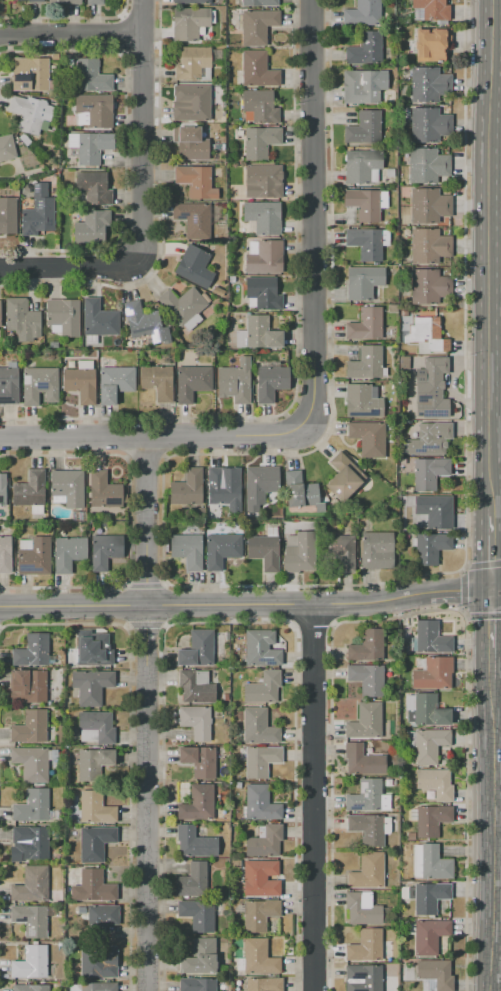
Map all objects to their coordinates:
building: (28, 0)
building: (2, 2)
building: (64, 2)
building: (95, 2)
building: (191, 2)
building: (260, 3)
building: (428, 9)
building: (363, 13)
building: (188, 23)
building: (256, 25)
road: (74, 35)
building: (431, 44)
building: (365, 49)
building: (192, 64)
building: (258, 70)
road: (497, 72)
building: (29, 75)
building: (91, 76)
building: (428, 85)
building: (361, 87)
building: (194, 104)
building: (260, 106)
building: (92, 111)
building: (30, 113)
building: (428, 125)
building: (364, 128)
road: (147, 140)
building: (259, 142)
building: (190, 143)
building: (92, 147)
building: (6, 148)
building: (361, 164)
building: (426, 165)
building: (263, 180)
building: (196, 181)
building: (92, 188)
building: (364, 204)
building: (429, 205)
road: (313, 214)
building: (8, 215)
building: (38, 216)
building: (263, 216)
building: (194, 219)
building: (91, 228)
building: (365, 243)
building: (429, 246)
road: (493, 254)
building: (265, 258)
building: (193, 267)
road: (62, 273)
building: (363, 282)
building: (428, 287)
building: (262, 292)
building: (182, 304)
building: (63, 316)
building: (0, 318)
building: (22, 318)
building: (99, 319)
building: (145, 323)
building: (365, 324)
building: (261, 333)
building: (428, 335)
building: (366, 363)
building: (84, 364)
building: (270, 380)
building: (192, 381)
building: (234, 381)
building: (156, 382)
building: (114, 383)
building: (79, 384)
building: (9, 385)
building: (39, 385)
building: (432, 388)
building: (362, 402)
road: (151, 435)
building: (368, 438)
building: (428, 439)
building: (428, 472)
building: (344, 477)
building: (259, 485)
building: (68, 486)
building: (187, 488)
building: (221, 488)
building: (2, 489)
building: (29, 489)
building: (103, 491)
building: (301, 491)
building: (435, 511)
building: (339, 546)
building: (430, 547)
building: (376, 549)
road: (493, 549)
building: (105, 550)
building: (187, 550)
building: (221, 550)
building: (263, 551)
building: (299, 552)
building: (5, 553)
building: (68, 553)
building: (35, 558)
road: (497, 589)
traffic signals: (493, 590)
road: (462, 591)
road: (216, 603)
road: (493, 634)
building: (430, 638)
building: (368, 646)
building: (261, 648)
building: (196, 649)
building: (91, 650)
building: (31, 651)
building: (432, 674)
building: (366, 679)
building: (91, 685)
building: (27, 686)
building: (195, 686)
building: (262, 688)
building: (426, 710)
road: (149, 713)
building: (196, 721)
building: (365, 722)
building: (30, 726)
building: (258, 726)
building: (96, 727)
building: (427, 744)
building: (363, 760)
building: (199, 761)
building: (261, 761)
building: (31, 763)
building: (93, 763)
building: (435, 782)
road: (312, 796)
building: (365, 796)
building: (197, 803)
building: (260, 803)
building: (32, 806)
building: (95, 808)
building: (431, 819)
building: (367, 829)
road: (492, 834)
building: (264, 841)
building: (95, 843)
building: (194, 843)
building: (29, 844)
building: (434, 863)
building: (367, 871)
building: (260, 878)
building: (193, 881)
building: (31, 884)
building: (92, 887)
building: (429, 897)
building: (362, 909)
building: (102, 914)
building: (197, 914)
building: (259, 914)
building: (30, 919)
building: (429, 935)
building: (365, 945)
building: (259, 957)
building: (200, 958)
building: (30, 962)
building: (98, 969)
building: (436, 973)
building: (363, 977)
building: (196, 984)
building: (263, 984)
building: (427, 984)
building: (30, 987)
building: (98, 987)

